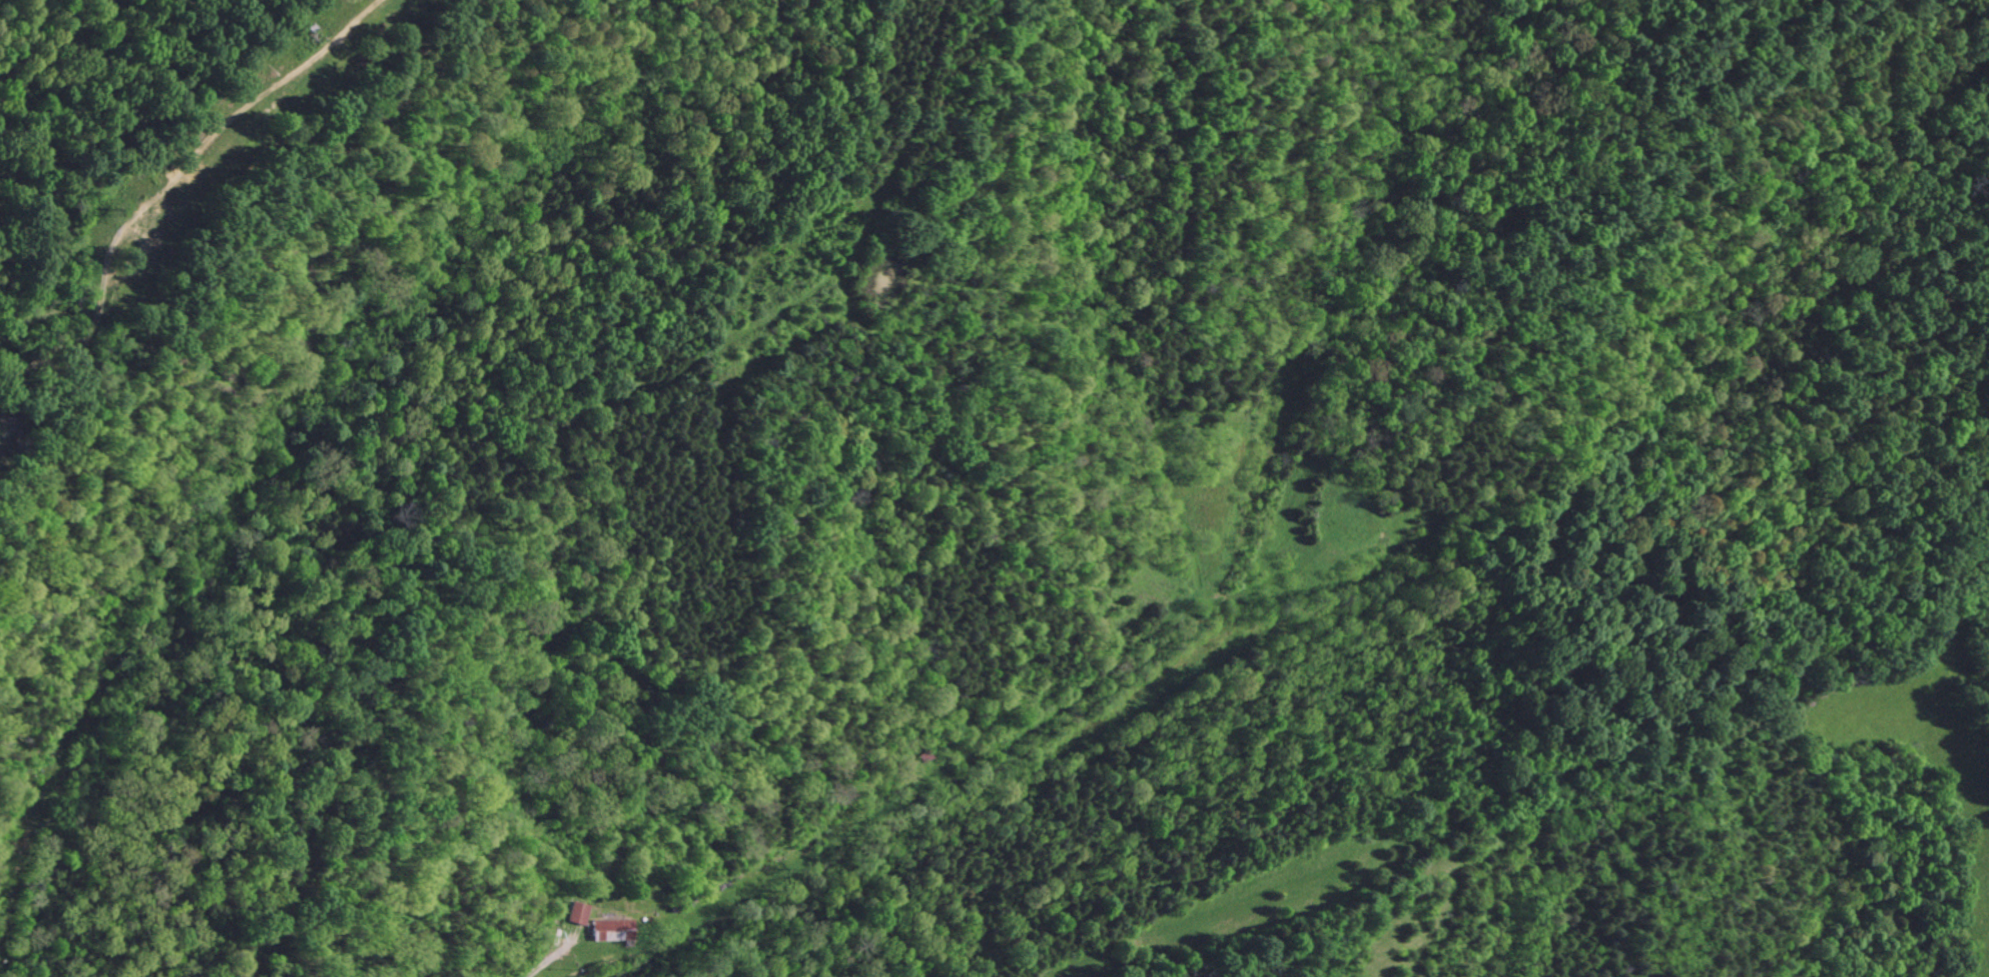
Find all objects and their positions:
building: (925, 756)
building: (578, 913)
building: (611, 931)
road: (542, 961)

